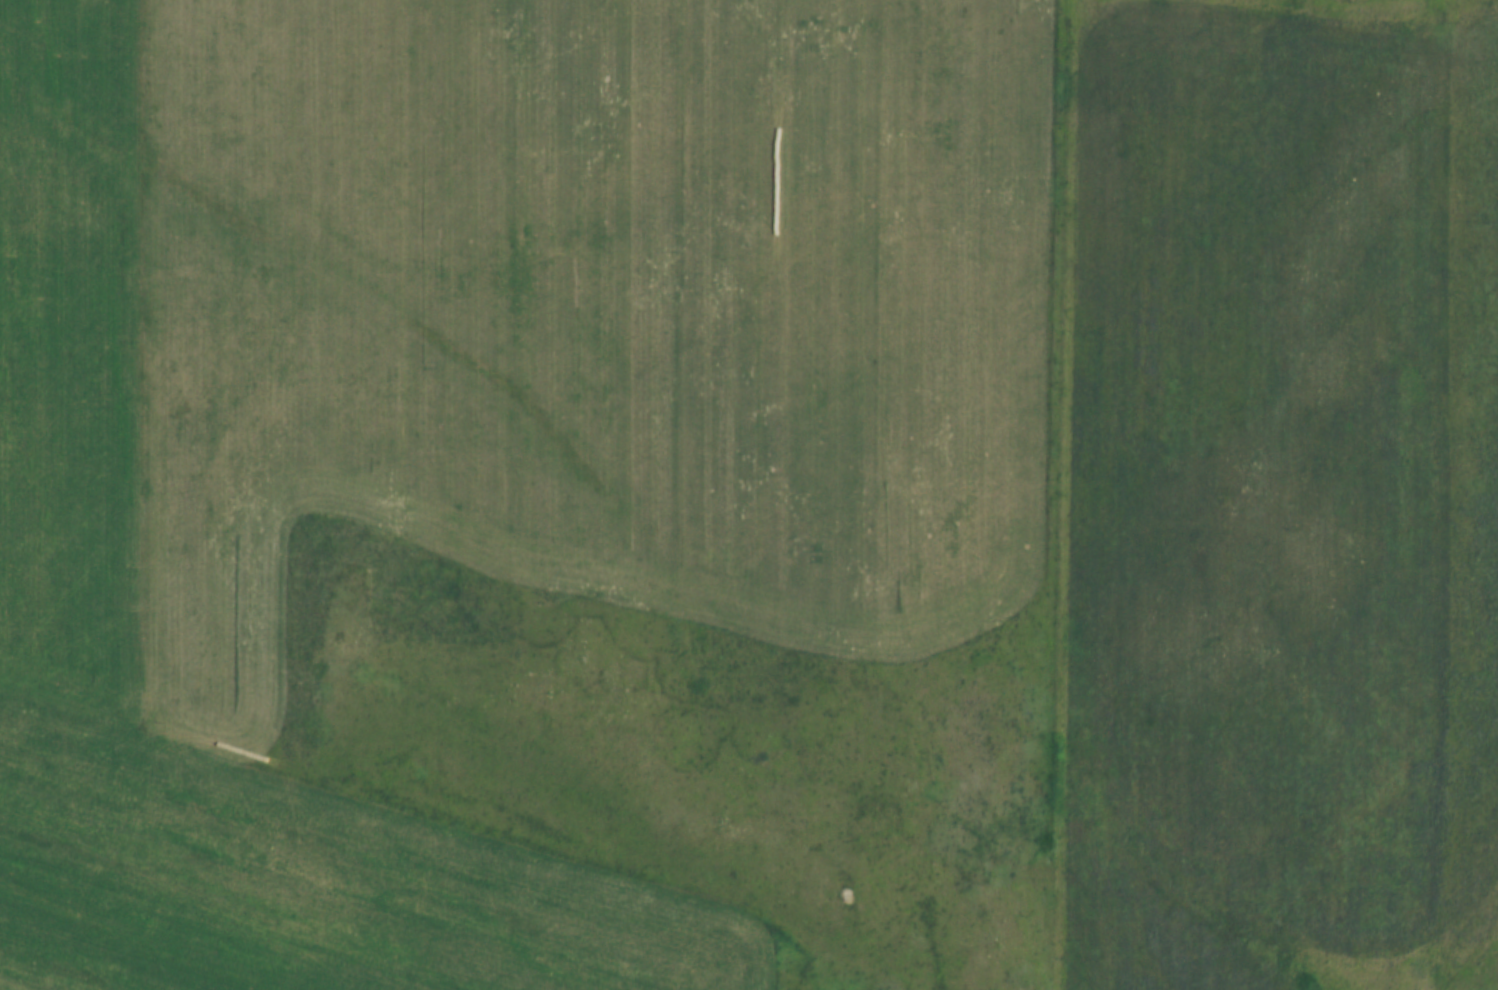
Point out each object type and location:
building: (1464, 829)

